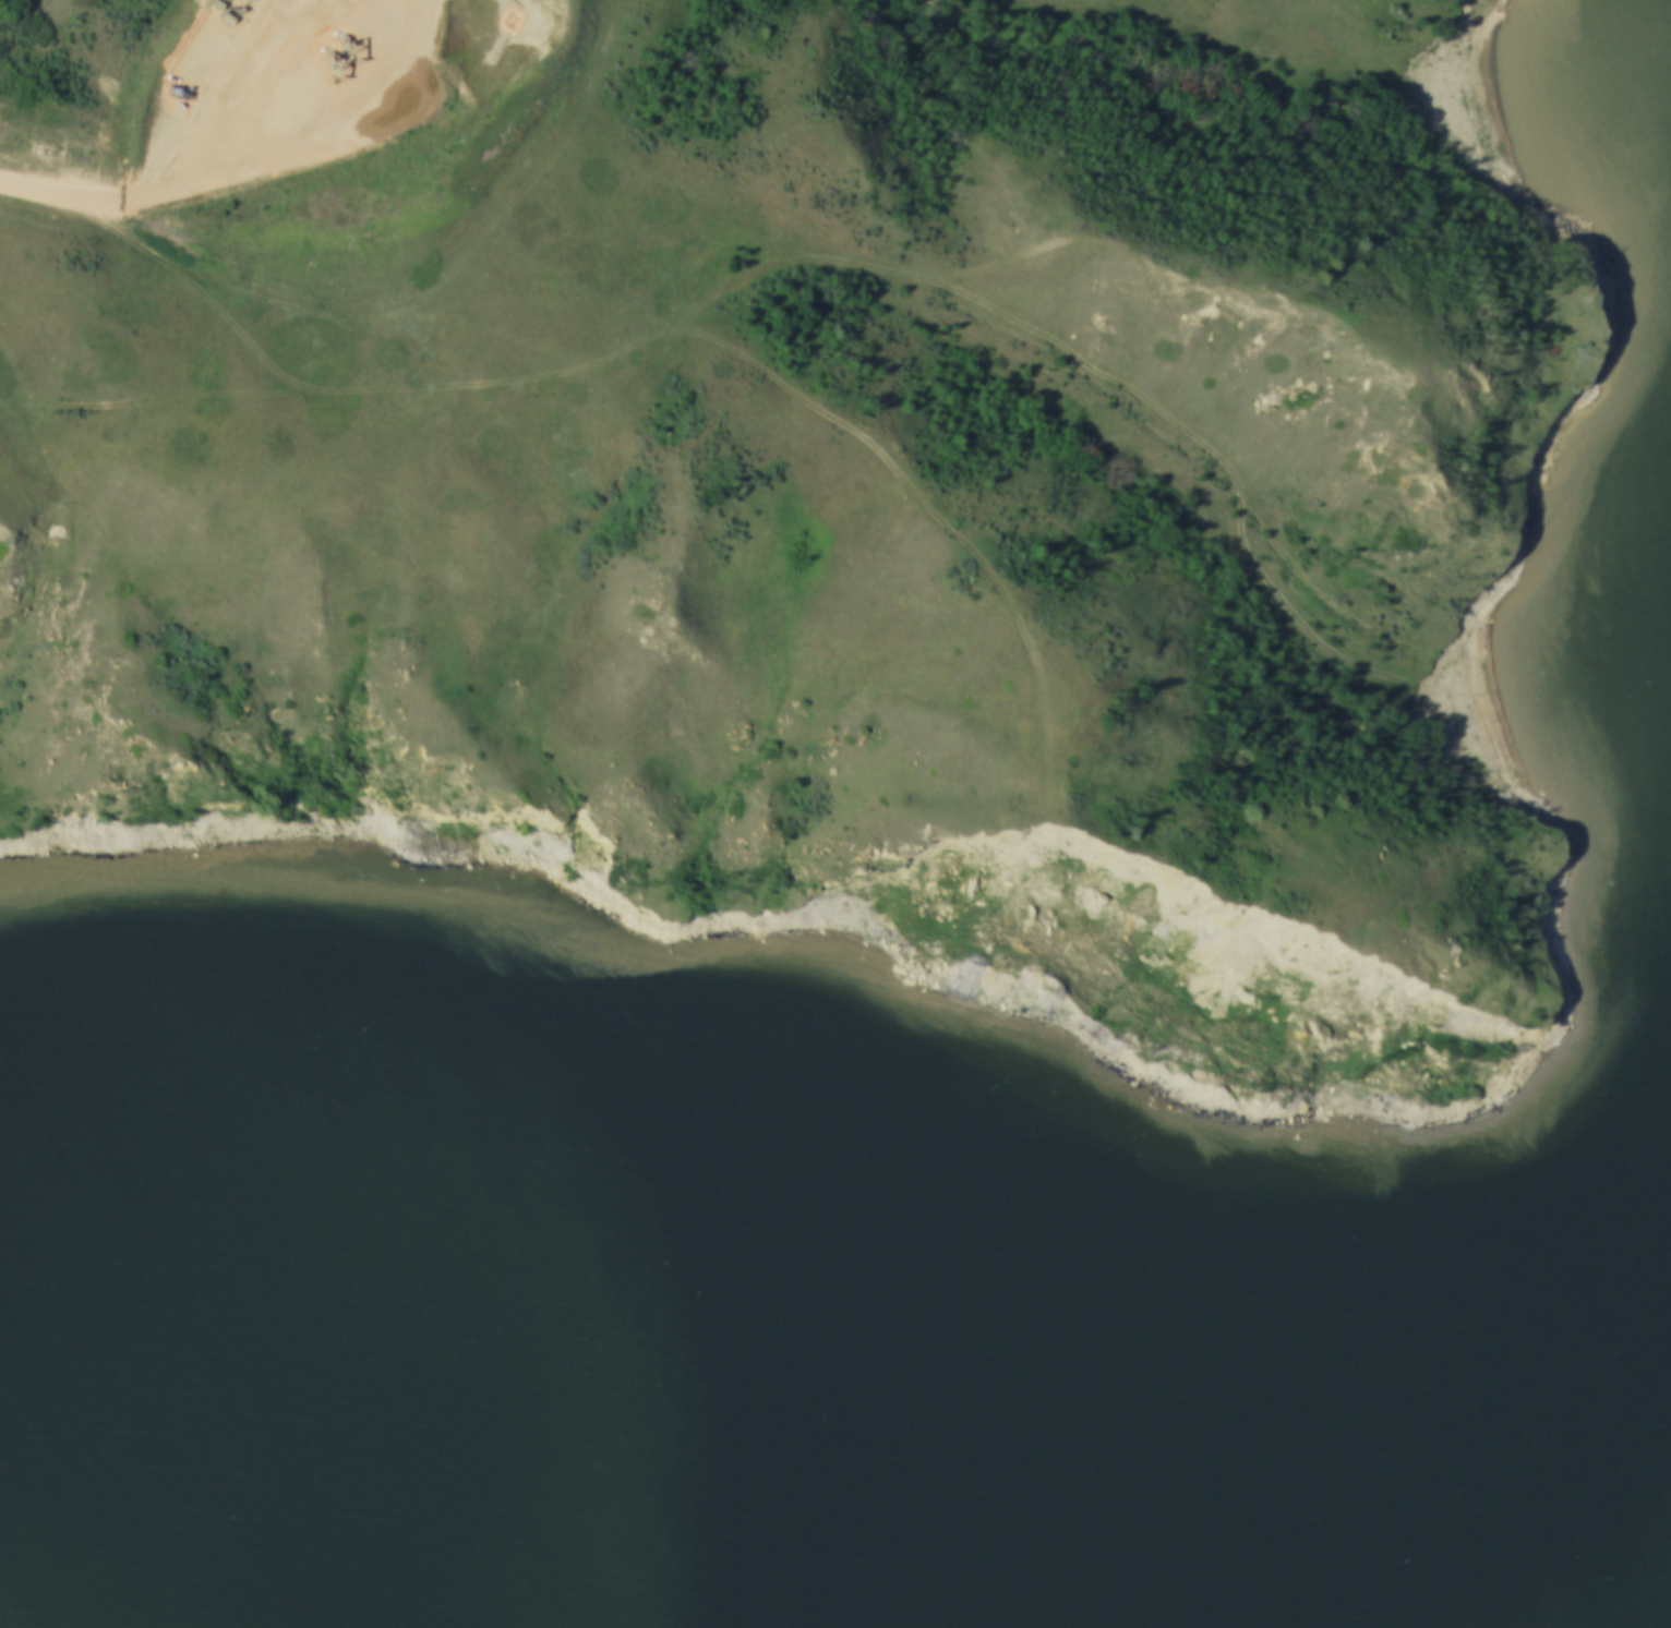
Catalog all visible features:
petroleum well: (346, 37)
petroleum well: (329, 60)
building: (443, 80)
building: (375, 153)
building: (208, 169)
road: (325, 180)
building: (324, 200)
road: (714, 300)
road: (83, 408)
road: (909, 473)

